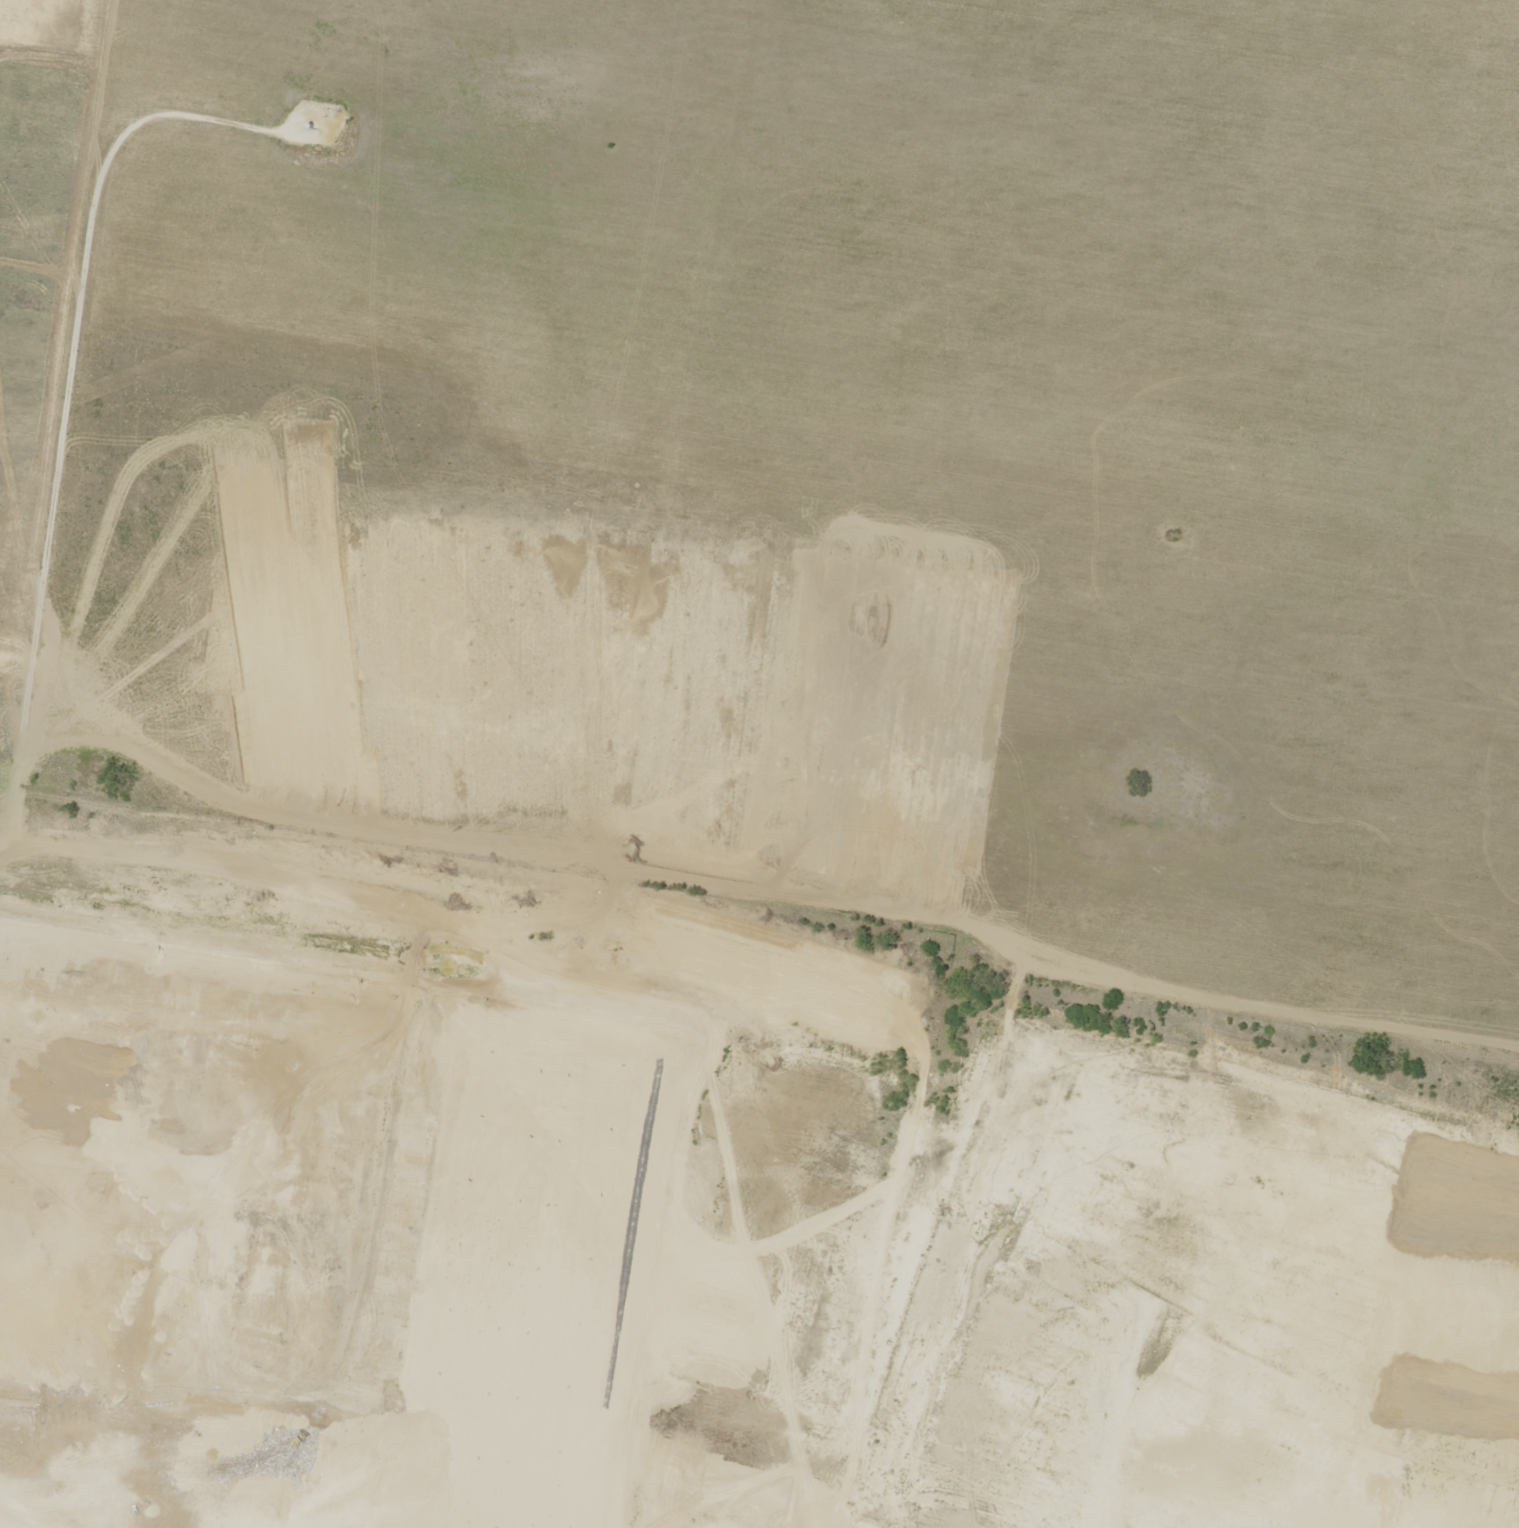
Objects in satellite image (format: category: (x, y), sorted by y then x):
road: (77, 423)
road: (640, 483)
road: (1363, 763)
road: (286, 927)
road: (1044, 1049)

